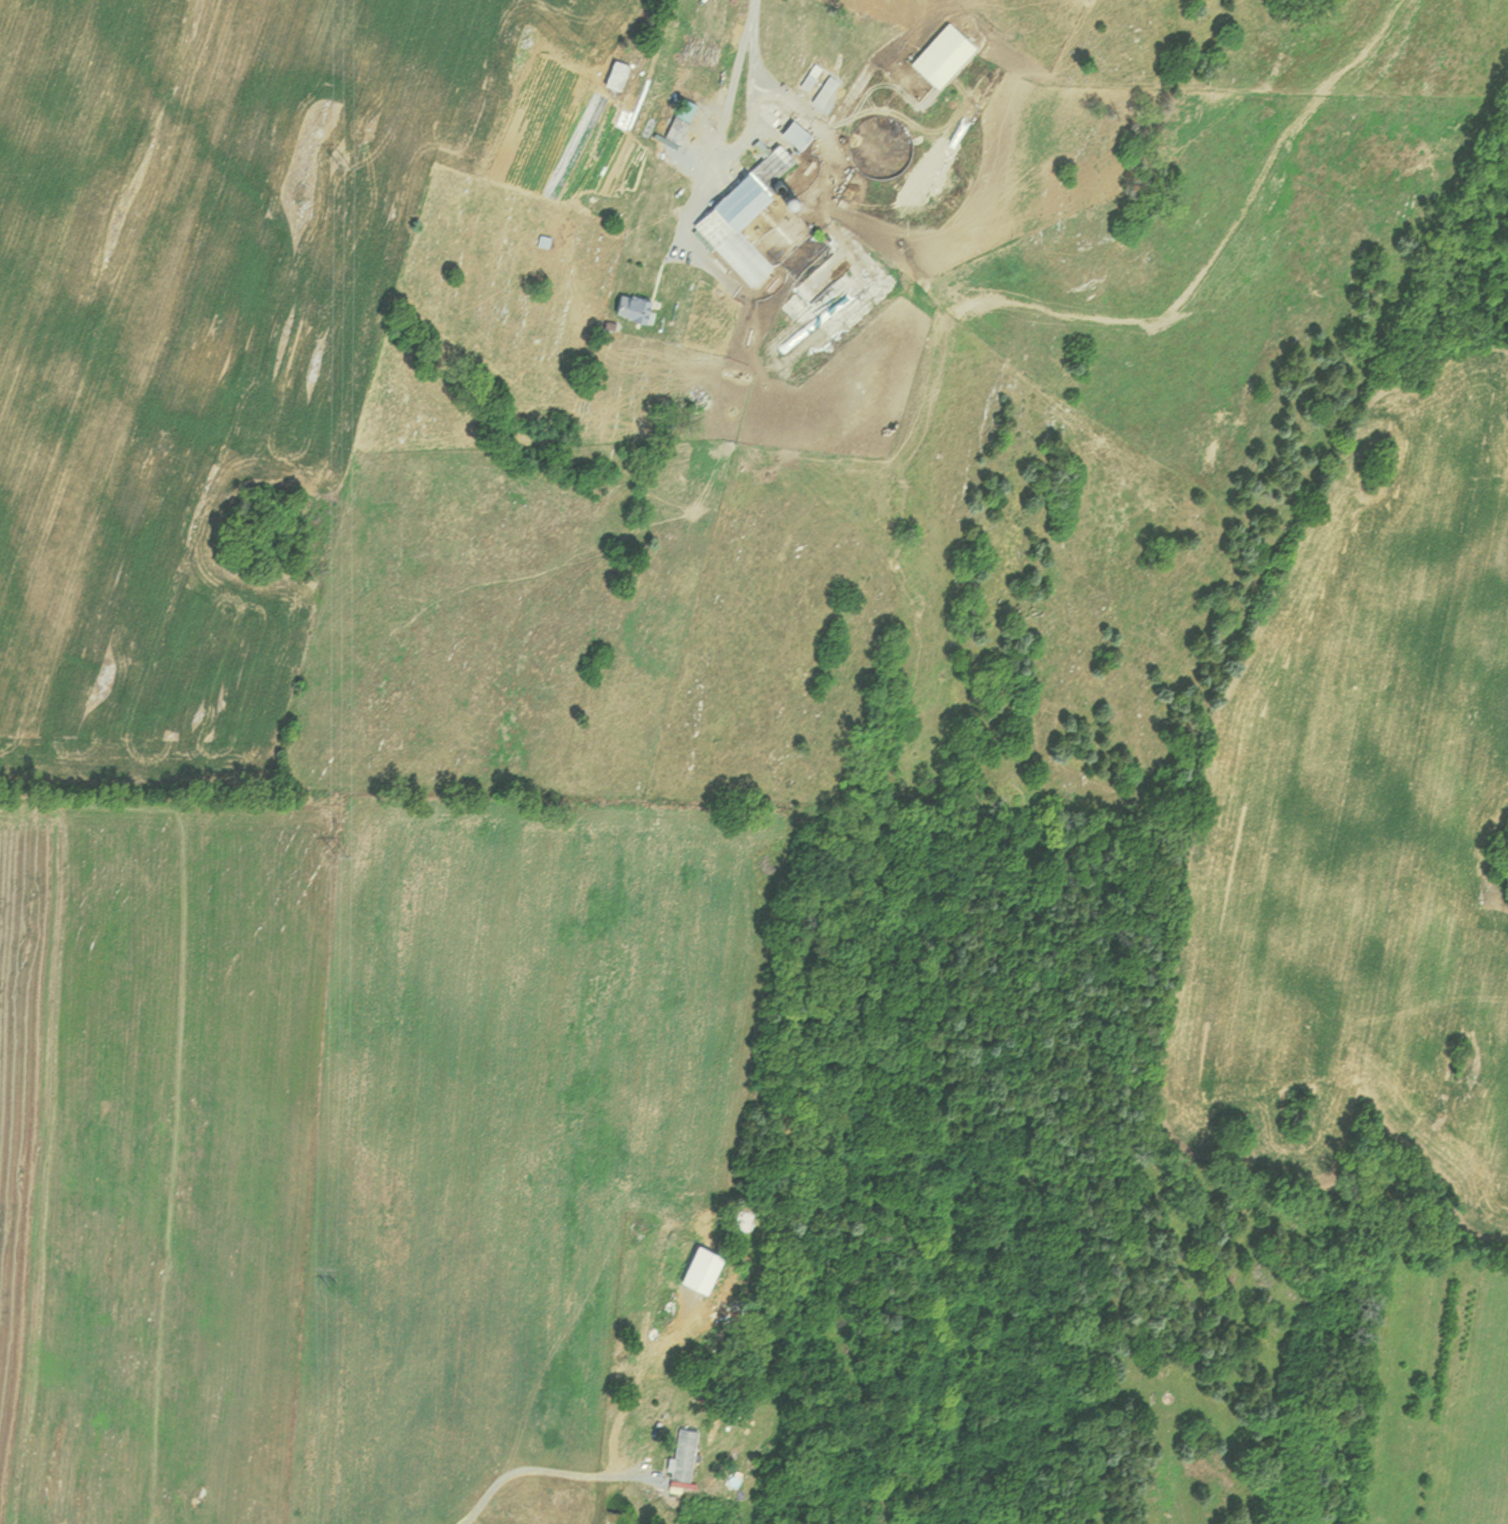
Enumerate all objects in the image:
building: (954, 54)
building: (629, 74)
building: (693, 119)
building: (806, 134)
power tower: (337, 155)
building: (749, 228)
building: (552, 241)
building: (645, 308)
power tower: (335, 848)
power tower: (334, 1287)
building: (692, 1453)
road: (546, 1468)

